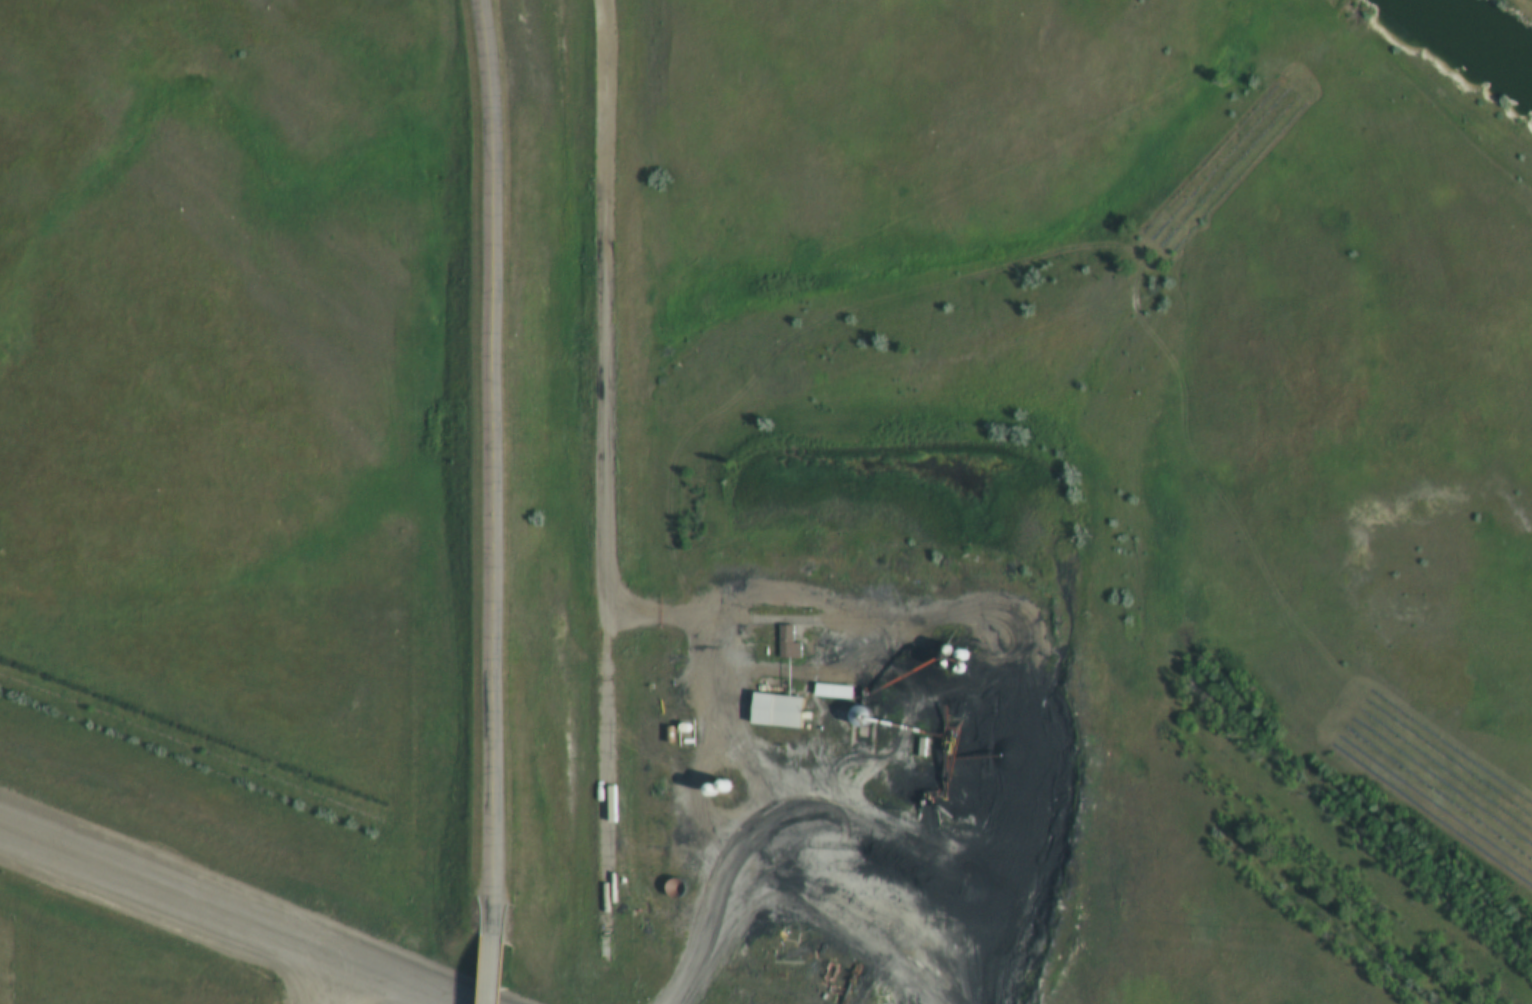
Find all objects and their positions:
road: (1523, 5)
road: (604, 309)
road: (486, 467)
building: (796, 642)
building: (784, 712)
road: (729, 779)
road: (604, 793)
road: (219, 917)
road: (495, 970)

